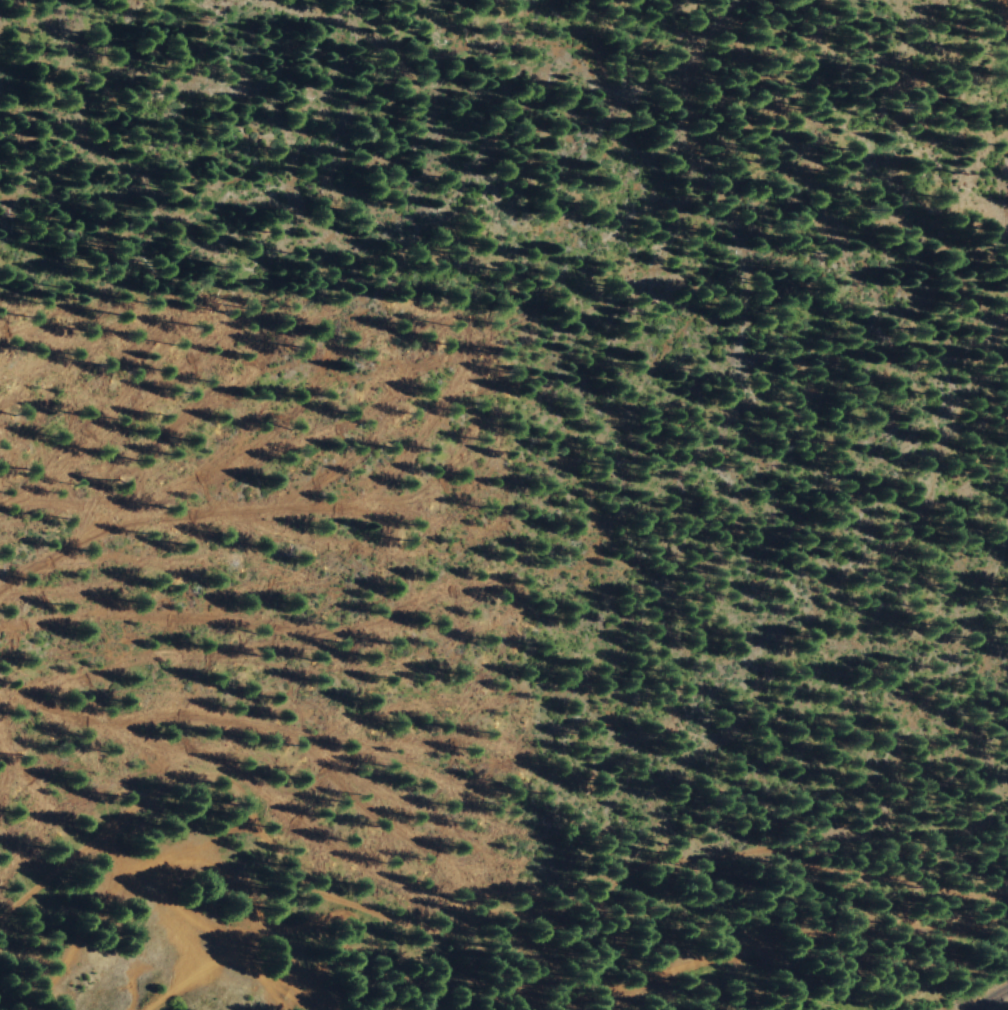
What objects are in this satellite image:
road: (1006, 4)
road: (469, 921)
railway: (993, 1001)

